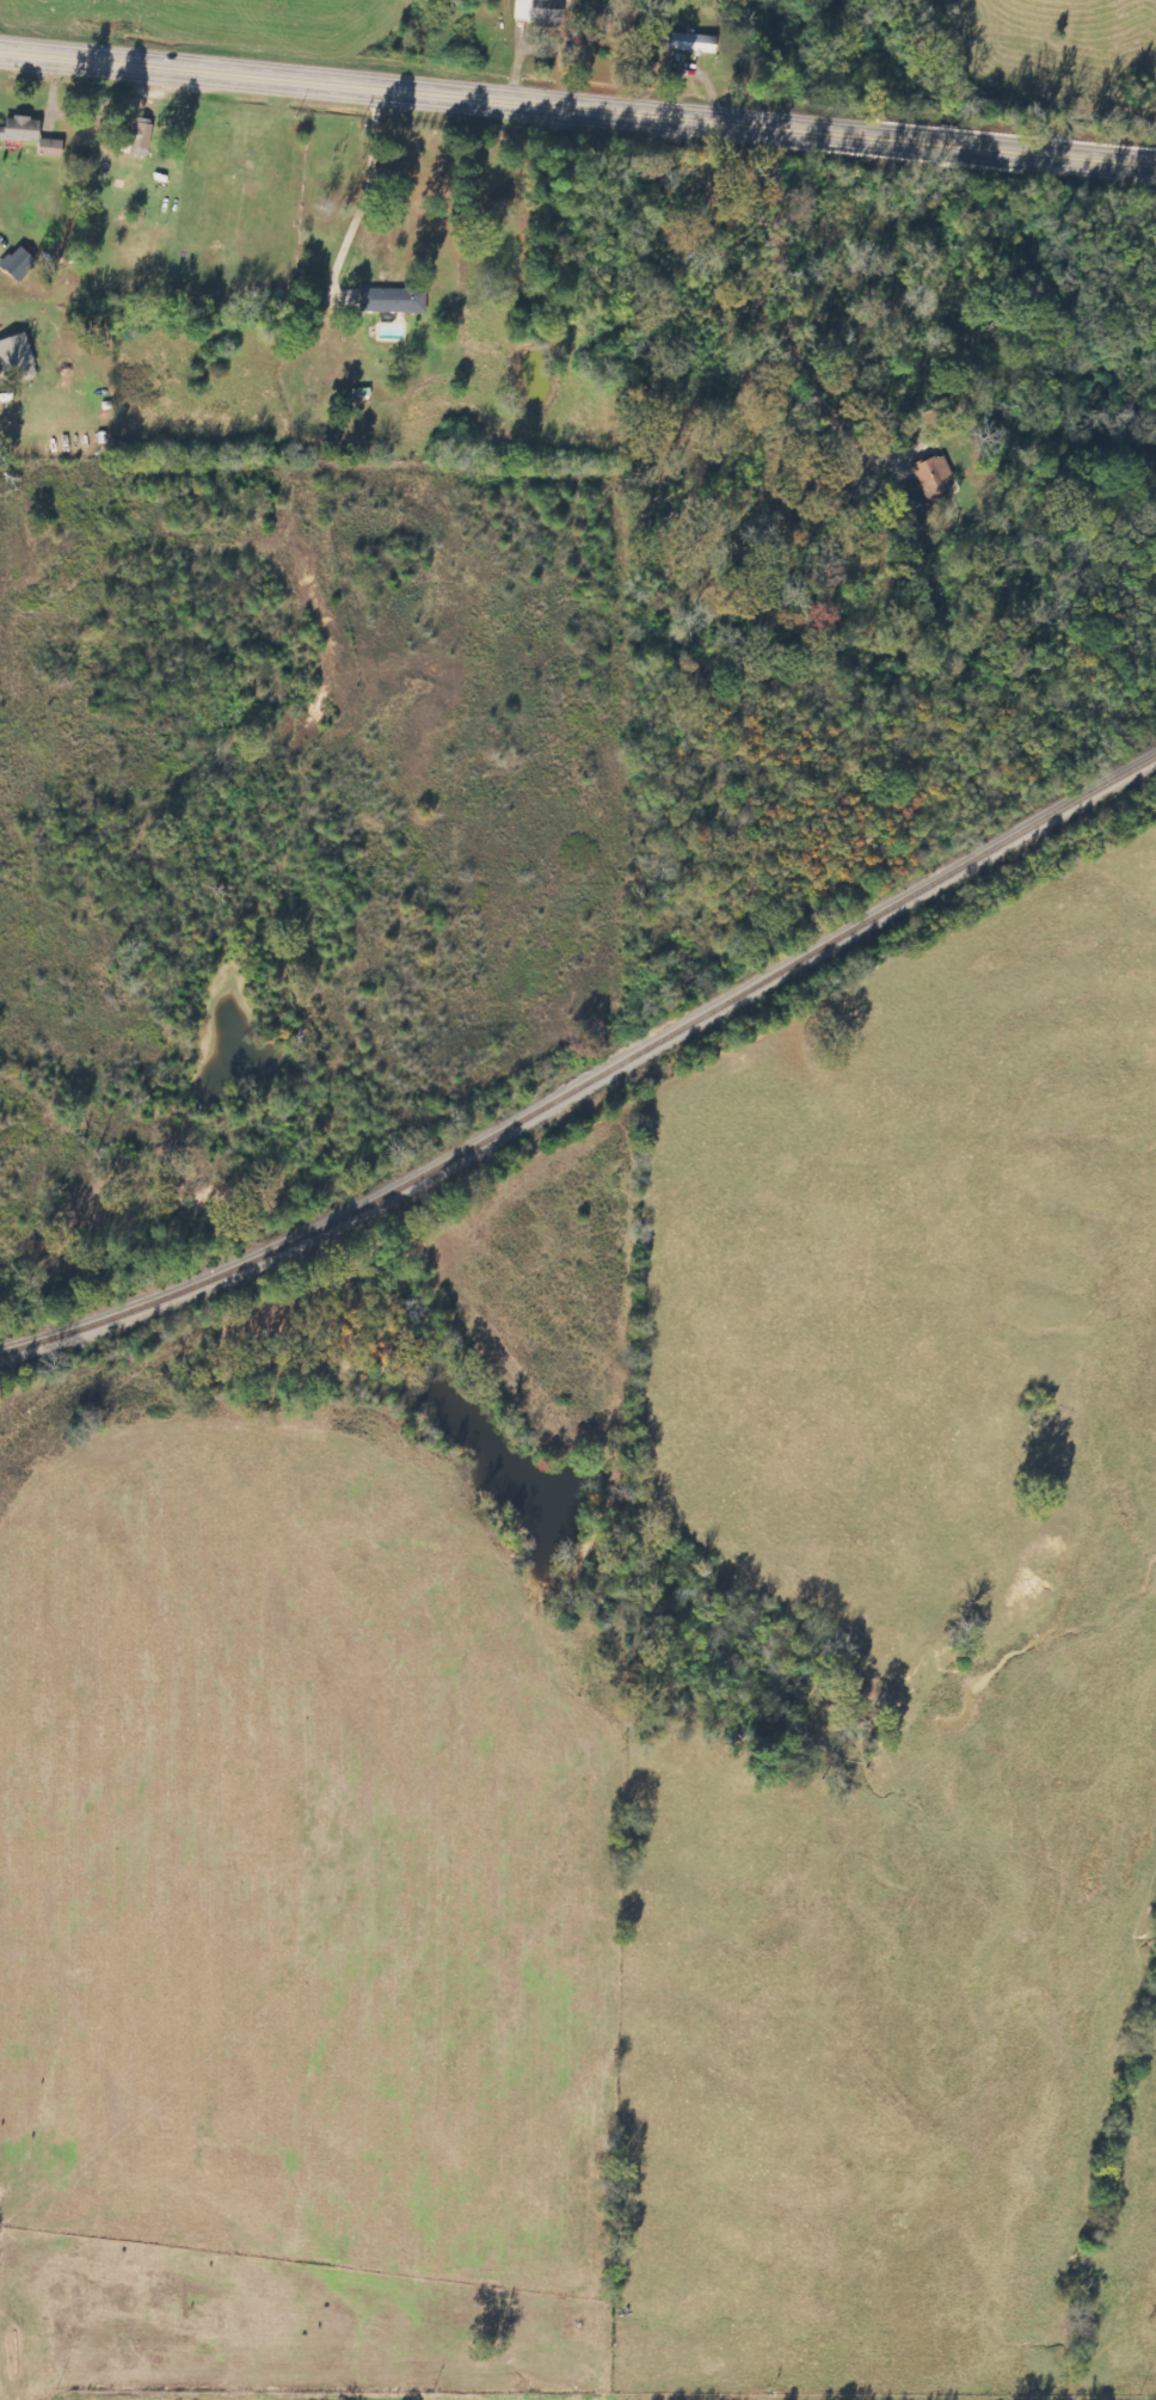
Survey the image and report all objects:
building: (531, 7)
building: (691, 43)
road: (578, 108)
building: (19, 128)
building: (137, 137)
building: (48, 148)
road: (579, 229)
building: (16, 264)
building: (391, 300)
building: (16, 355)
road: (239, 502)
railway: (590, 1079)

